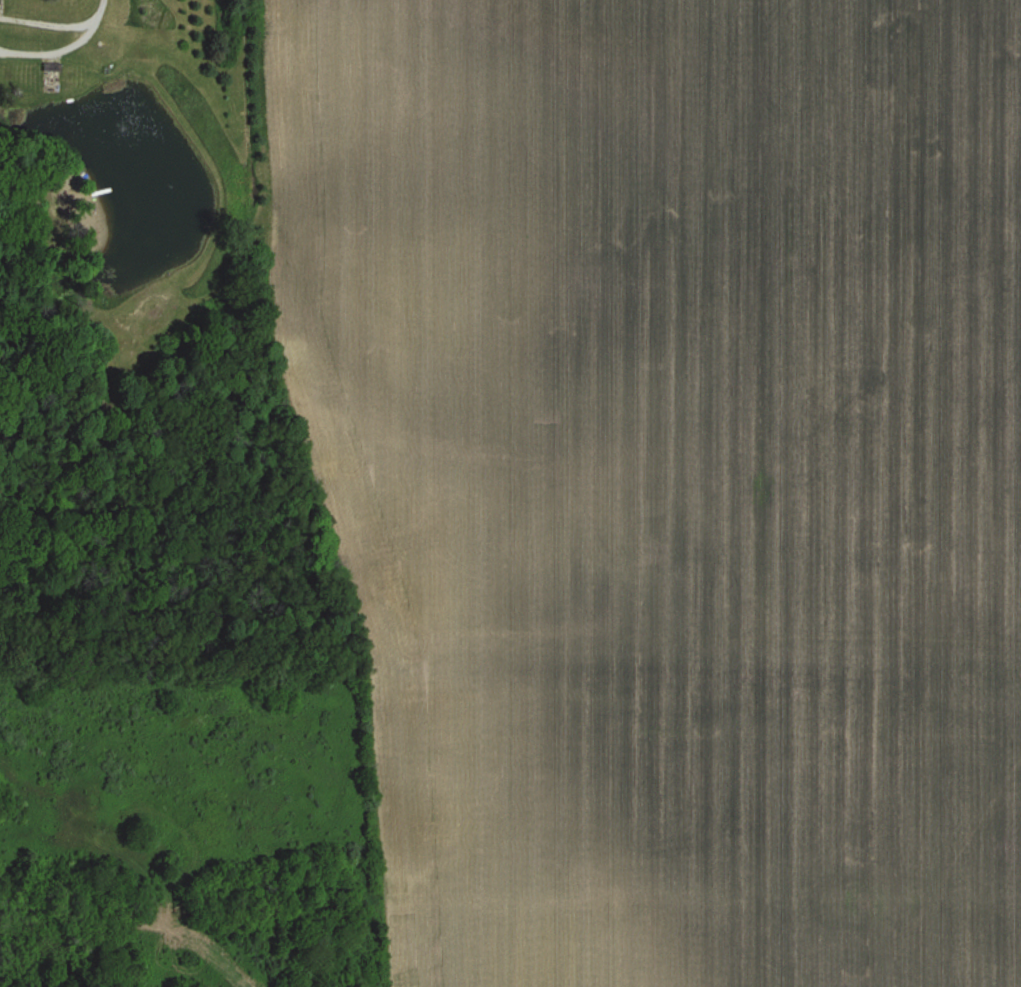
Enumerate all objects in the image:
road: (97, 14)
road: (84, 32)

